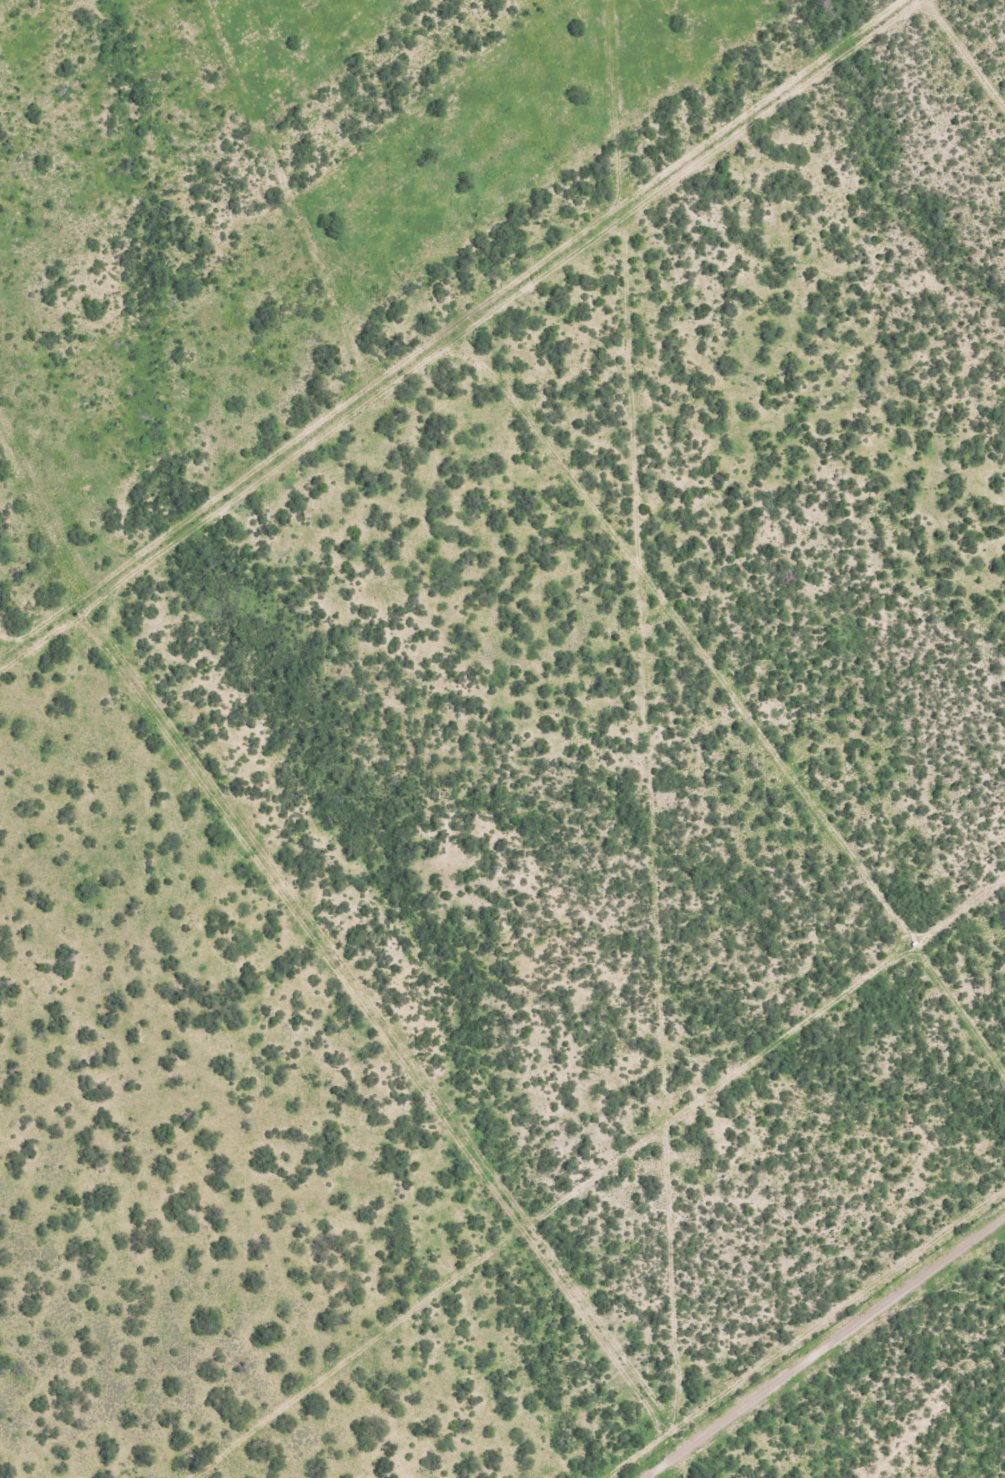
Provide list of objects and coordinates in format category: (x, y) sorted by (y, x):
road: (850, 1362)

